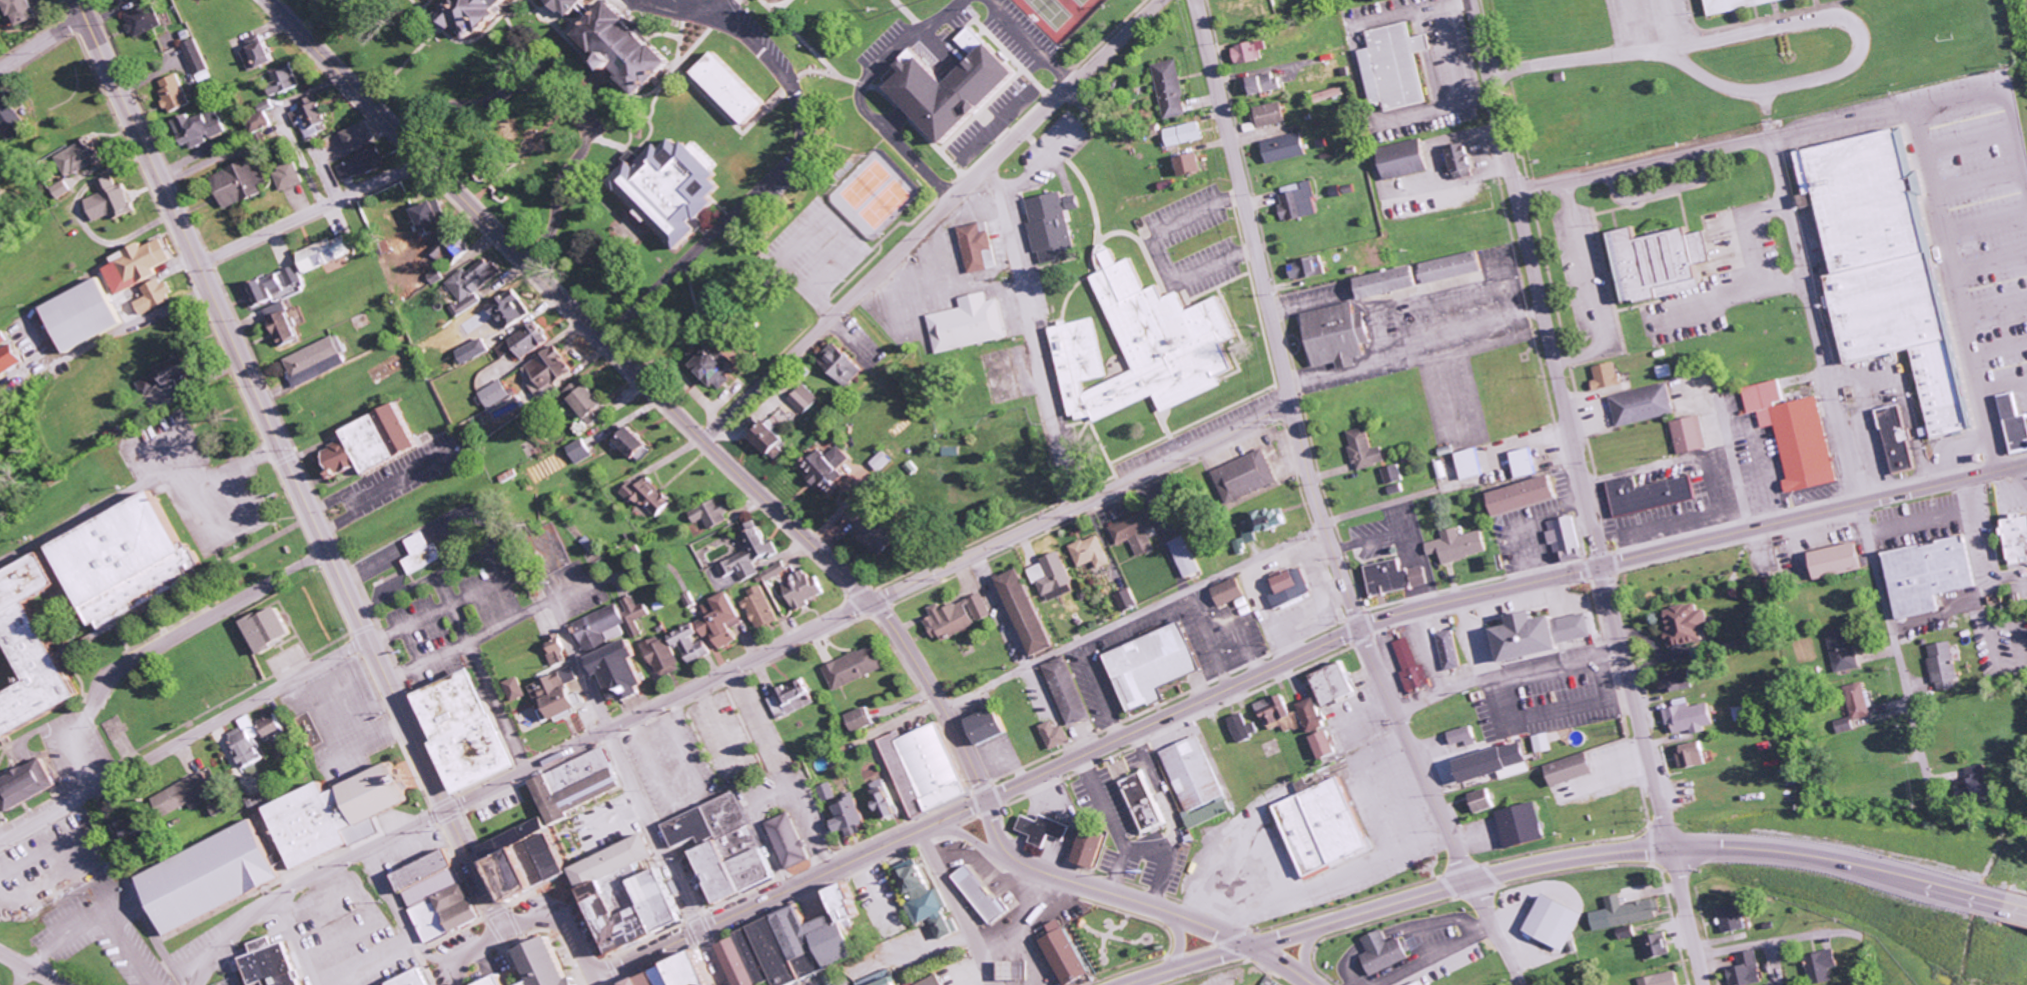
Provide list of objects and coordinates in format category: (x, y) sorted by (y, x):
building: (131, 1)
building: (1726, 4)
building: (576, 5)
building: (31, 10)
building: (480, 15)
building: (146, 20)
building: (170, 41)
building: (973, 41)
road: (42, 45)
building: (633, 45)
building: (1243, 51)
building: (261, 53)
building: (198, 56)
building: (1388, 66)
building: (285, 78)
building: (1256, 83)
building: (737, 87)
building: (955, 89)
building: (1164, 89)
building: (176, 92)
building: (1322, 95)
building: (1263, 114)
building: (264, 116)
building: (312, 116)
building: (11, 117)
building: (200, 128)
building: (360, 134)
building: (1177, 134)
building: (1277, 148)
building: (81, 157)
building: (1395, 159)
building: (1453, 161)
building: (363, 164)
building: (1181, 164)
road: (1636, 166)
building: (288, 176)
building: (239, 183)
building: (62, 188)
building: (677, 190)
building: (112, 200)
building: (1292, 201)
road: (1240, 202)
building: (432, 213)
road: (312, 214)
road: (933, 219)
building: (1050, 228)
building: (977, 248)
building: (327, 252)
building: (1655, 263)
building: (140, 264)
building: (1879, 264)
building: (1300, 267)
building: (1444, 267)
building: (293, 276)
building: (475, 282)
building: (1377, 282)
road: (1535, 282)
building: (264, 291)
building: (157, 295)
building: (502, 312)
building: (86, 314)
building: (285, 323)
building: (967, 323)
road: (1032, 335)
building: (1329, 336)
building: (2, 338)
building: (525, 343)
building: (1144, 346)
building: (478, 350)
building: (9, 358)
building: (318, 360)
building: (843, 363)
building: (719, 366)
building: (180, 368)
building: (550, 369)
building: (1603, 376)
building: (149, 383)
road: (646, 385)
building: (497, 393)
building: (806, 399)
building: (589, 400)
building: (1639, 405)
building: (2012, 424)
building: (1686, 434)
building: (1792, 434)
building: (775, 439)
building: (1893, 439)
building: (636, 442)
building: (375, 443)
building: (1364, 449)
building: (581, 451)
building: (882, 461)
building: (1529, 462)
building: (1474, 463)
road: (287, 465)
building: (829, 465)
road: (1847, 466)
building: (1393, 474)
building: (1245, 476)
building: (1531, 494)
building: (1646, 494)
building: (651, 497)
road: (1080, 503)
building: (713, 514)
road: (1320, 518)
building: (1269, 519)
building: (877, 529)
building: (1136, 533)
building: (2013, 538)
building: (1568, 539)
building: (1460, 545)
building: (1091, 552)
building: (423, 553)
building: (750, 554)
building: (1186, 556)
building: (134, 559)
building: (1831, 560)
building: (1922, 575)
building: (1052, 576)
building: (1398, 577)
building: (1292, 588)
building: (806, 589)
road: (1491, 591)
building: (1231, 592)
building: (1125, 600)
building: (763, 608)
building: (1028, 612)
road: (1131, 616)
building: (957, 617)
building: (1681, 625)
building: (272, 629)
building: (714, 629)
building: (1545, 634)
building: (618, 645)
building: (1452, 649)
building: (35, 650)
building: (1839, 651)
building: (558, 652)
building: (664, 656)
building: (1154, 665)
building: (1413, 665)
building: (1939, 665)
building: (857, 667)
building: (1680, 681)
building: (1339, 683)
building: (517, 689)
building: (1067, 691)
building: (560, 694)
building: (795, 699)
building: (1854, 701)
building: (1280, 714)
building: (1315, 715)
building: (1691, 718)
building: (866, 719)
building: (990, 725)
building: (1840, 725)
building: (271, 726)
building: (1242, 728)
building: (470, 731)
building: (1055, 735)
building: (1465, 736)
road: (183, 740)
building: (1546, 742)
building: (247, 743)
building: (1329, 744)
building: (1693, 754)
building: (1501, 763)
building: (928, 769)
building: (1574, 769)
road: (517, 774)
road: (1652, 774)
building: (1197, 782)
building: (1970, 783)
building: (28, 784)
building: (581, 785)
building: (829, 792)
building: (188, 793)
road: (640, 796)
building: (888, 800)
building: (1488, 800)
building: (1143, 802)
road: (1439, 808)
building: (341, 814)
building: (854, 817)
building: (1526, 825)
building: (1327, 826)
building: (134, 828)
building: (1044, 829)
building: (792, 841)
building: (727, 847)
building: (1092, 847)
road: (1623, 848)
building: (529, 861)
building: (214, 877)
road: (789, 888)
road: (1099, 888)
building: (663, 893)
building: (982, 894)
building: (441, 896)
building: (926, 897)
road: (2017, 899)
road: (953, 907)
building: (1627, 913)
building: (1733, 918)
building: (1559, 922)
road: (567, 926)
building: (1632, 931)
road: (1180, 938)
road: (295, 940)
park: (1120, 941)
building: (1659, 946)
road: (470, 949)
road: (1304, 949)
building: (1388, 952)
building: (1069, 954)
road: (1280, 962)
building: (742, 963)
building: (239, 964)
building: (272, 964)
road: (1182, 964)
building: (551, 965)
building: (1823, 966)
road: (28, 969)
building: (1747, 969)
building: (1010, 970)
building: (671, 971)
building: (704, 971)
building: (419, 978)
building: (1662, 979)
building: (654, 980)
building: (502, 981)
building: (883, 981)
building: (937, 981)
building: (1423, 983)

